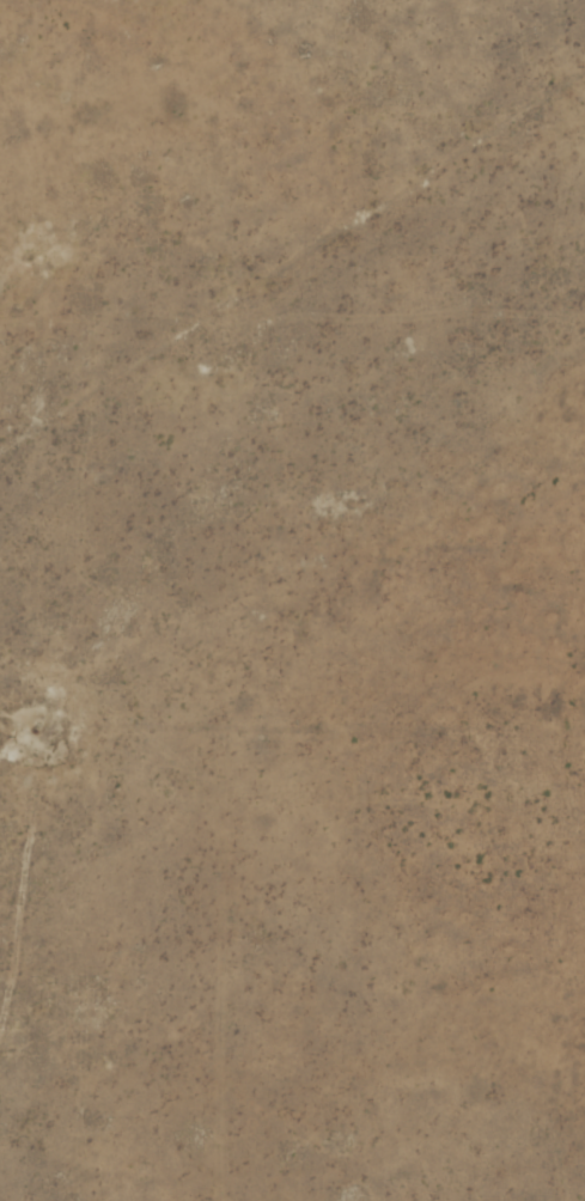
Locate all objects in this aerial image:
road: (69, 822)

